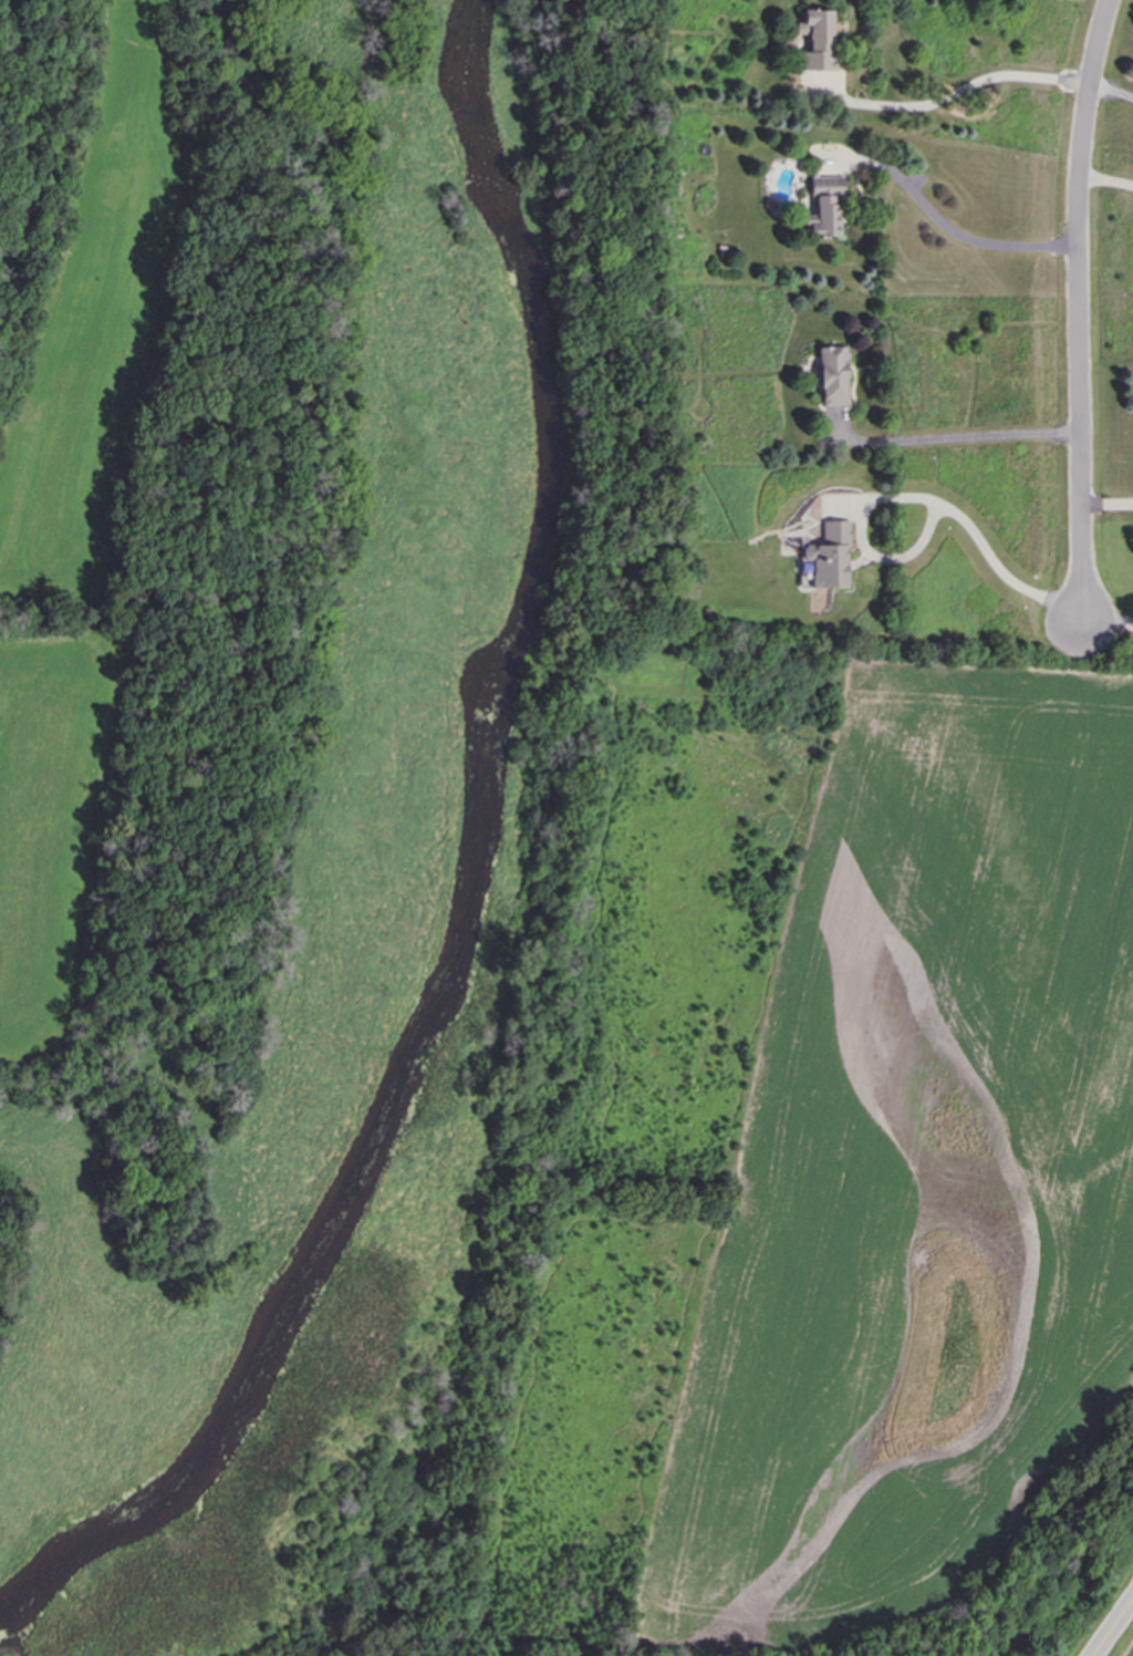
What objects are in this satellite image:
building: (821, 37)
road: (968, 83)
road: (1112, 90)
road: (1106, 179)
building: (824, 206)
road: (959, 235)
road: (1078, 313)
building: (832, 376)
road: (958, 446)
road: (1108, 503)
building: (827, 555)
road: (989, 557)
road: (1108, 625)
road: (550, 834)
river: (467, 883)
road: (1113, 1627)
crop: (1130, 1650)

